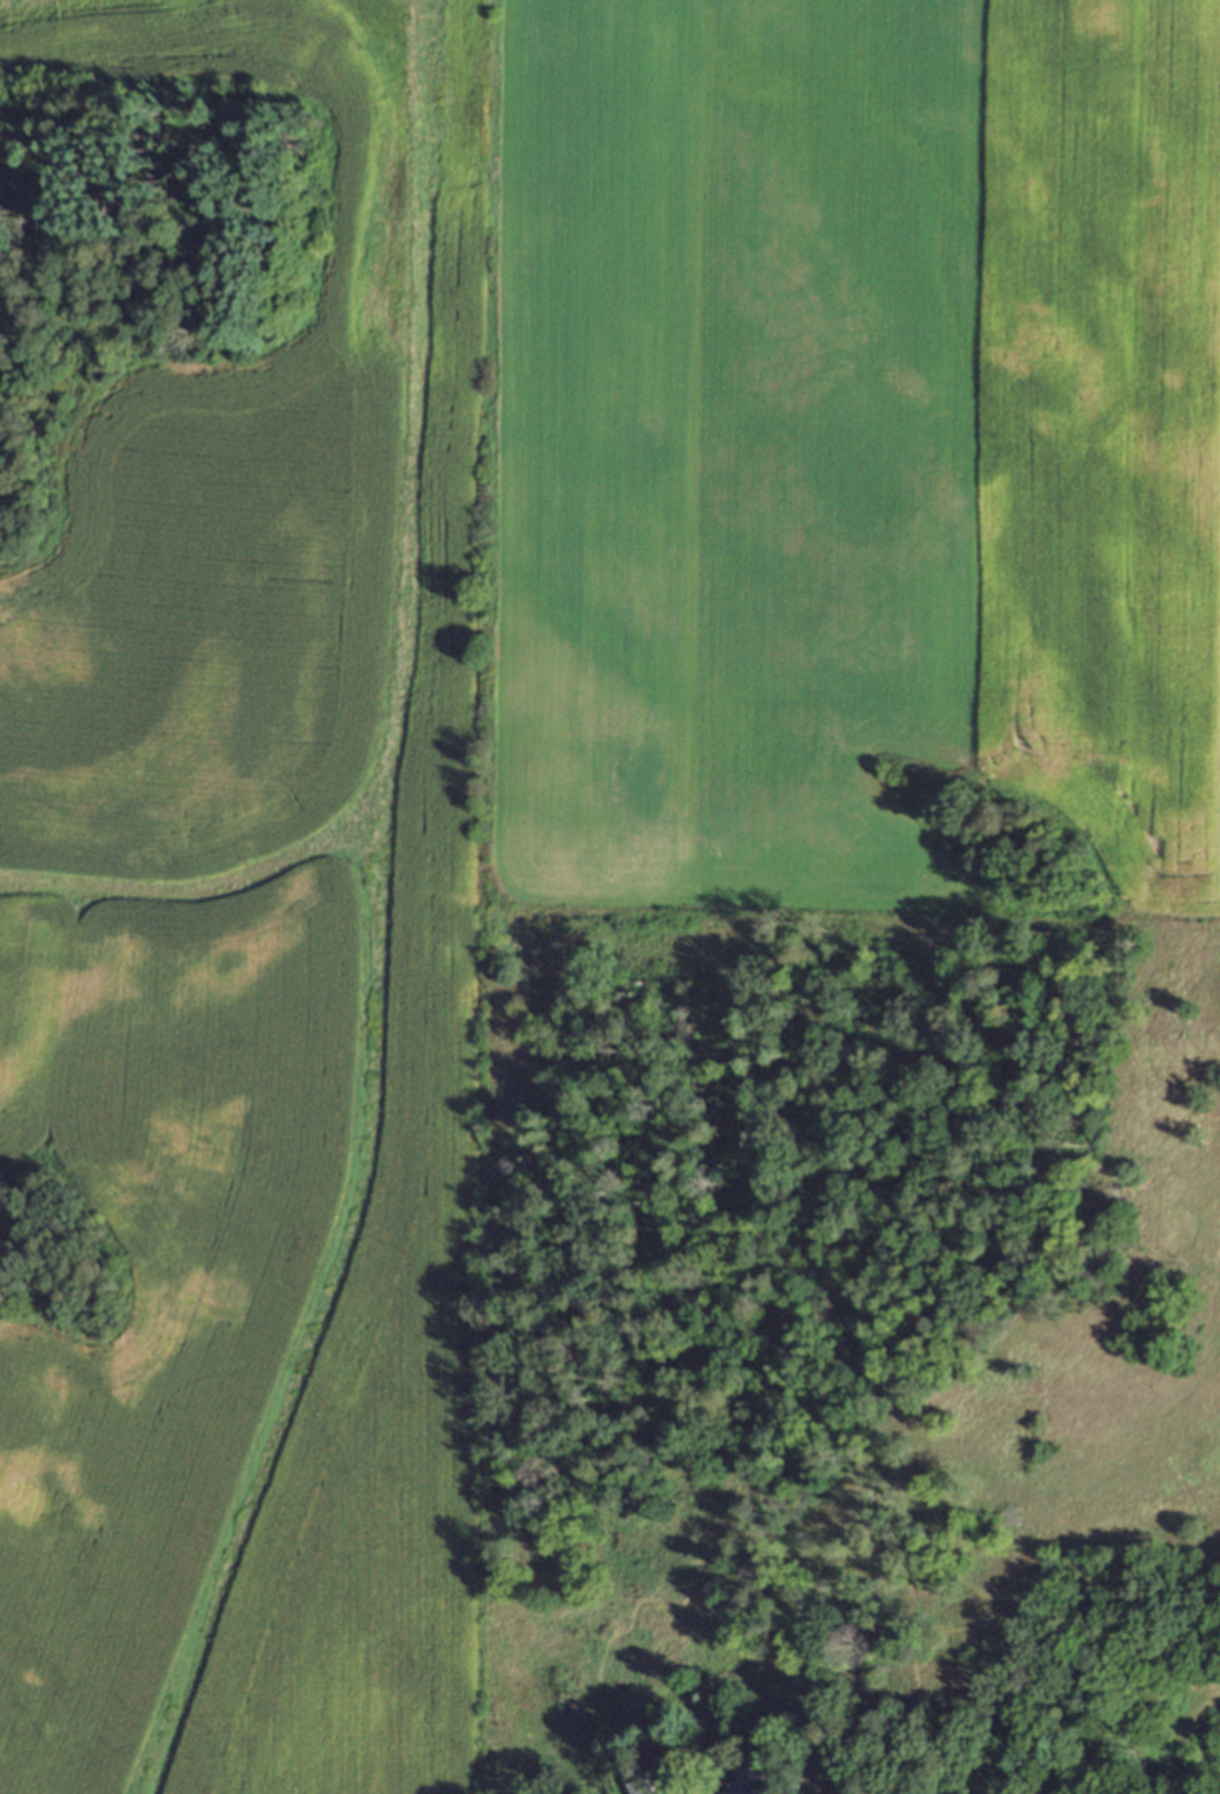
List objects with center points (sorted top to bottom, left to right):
building: (746, 1782)
building: (640, 1786)

